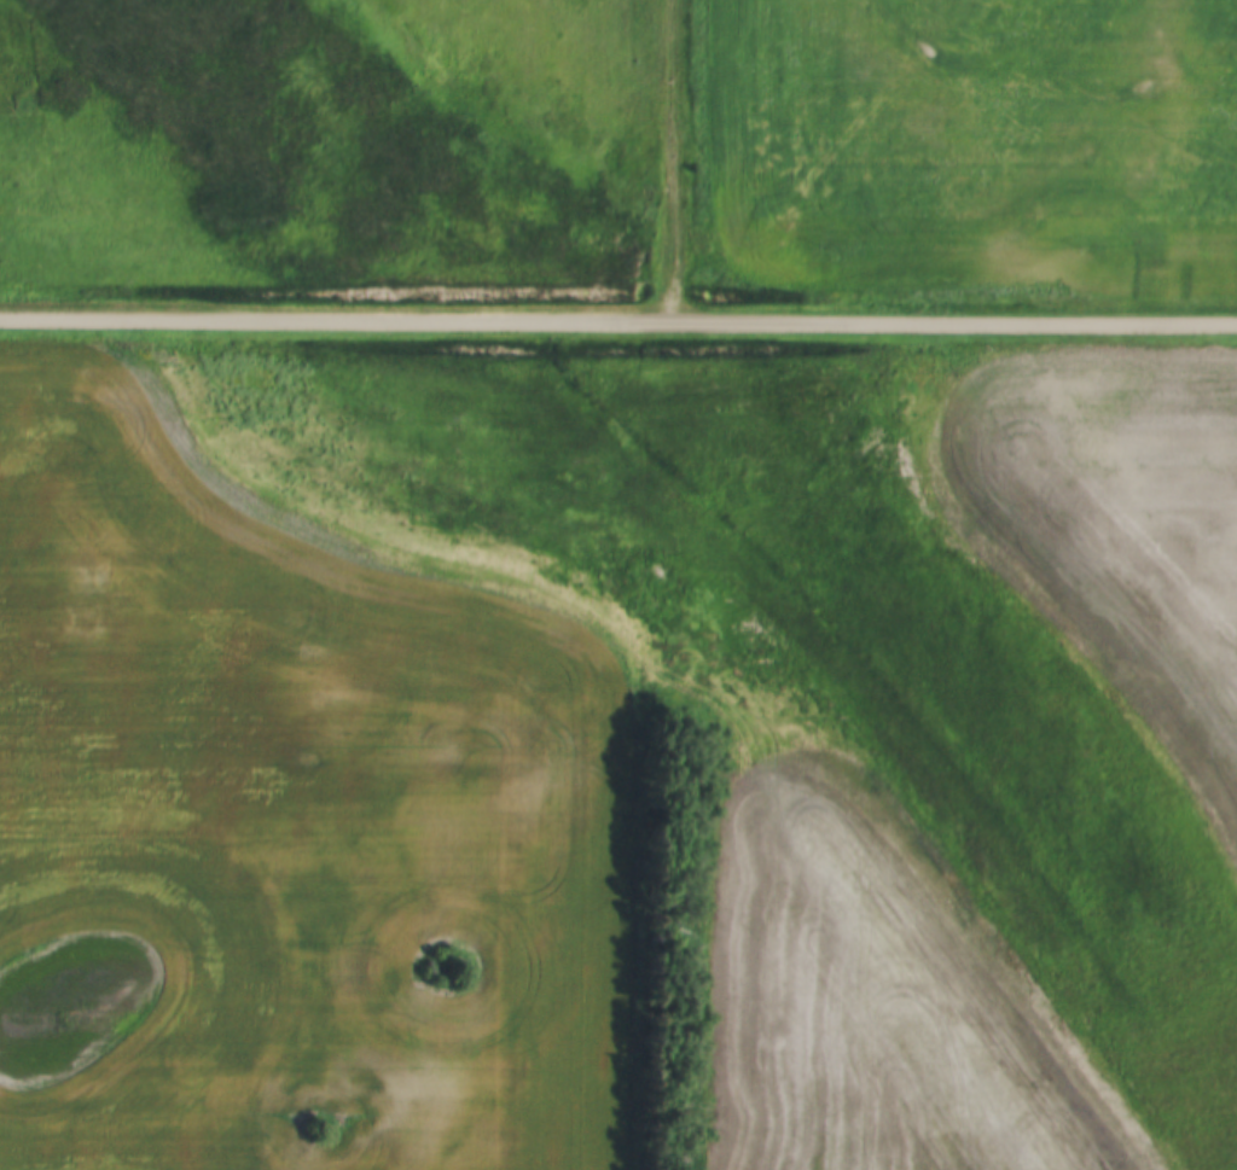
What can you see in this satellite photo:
road: (670, 158)
road: (618, 318)

